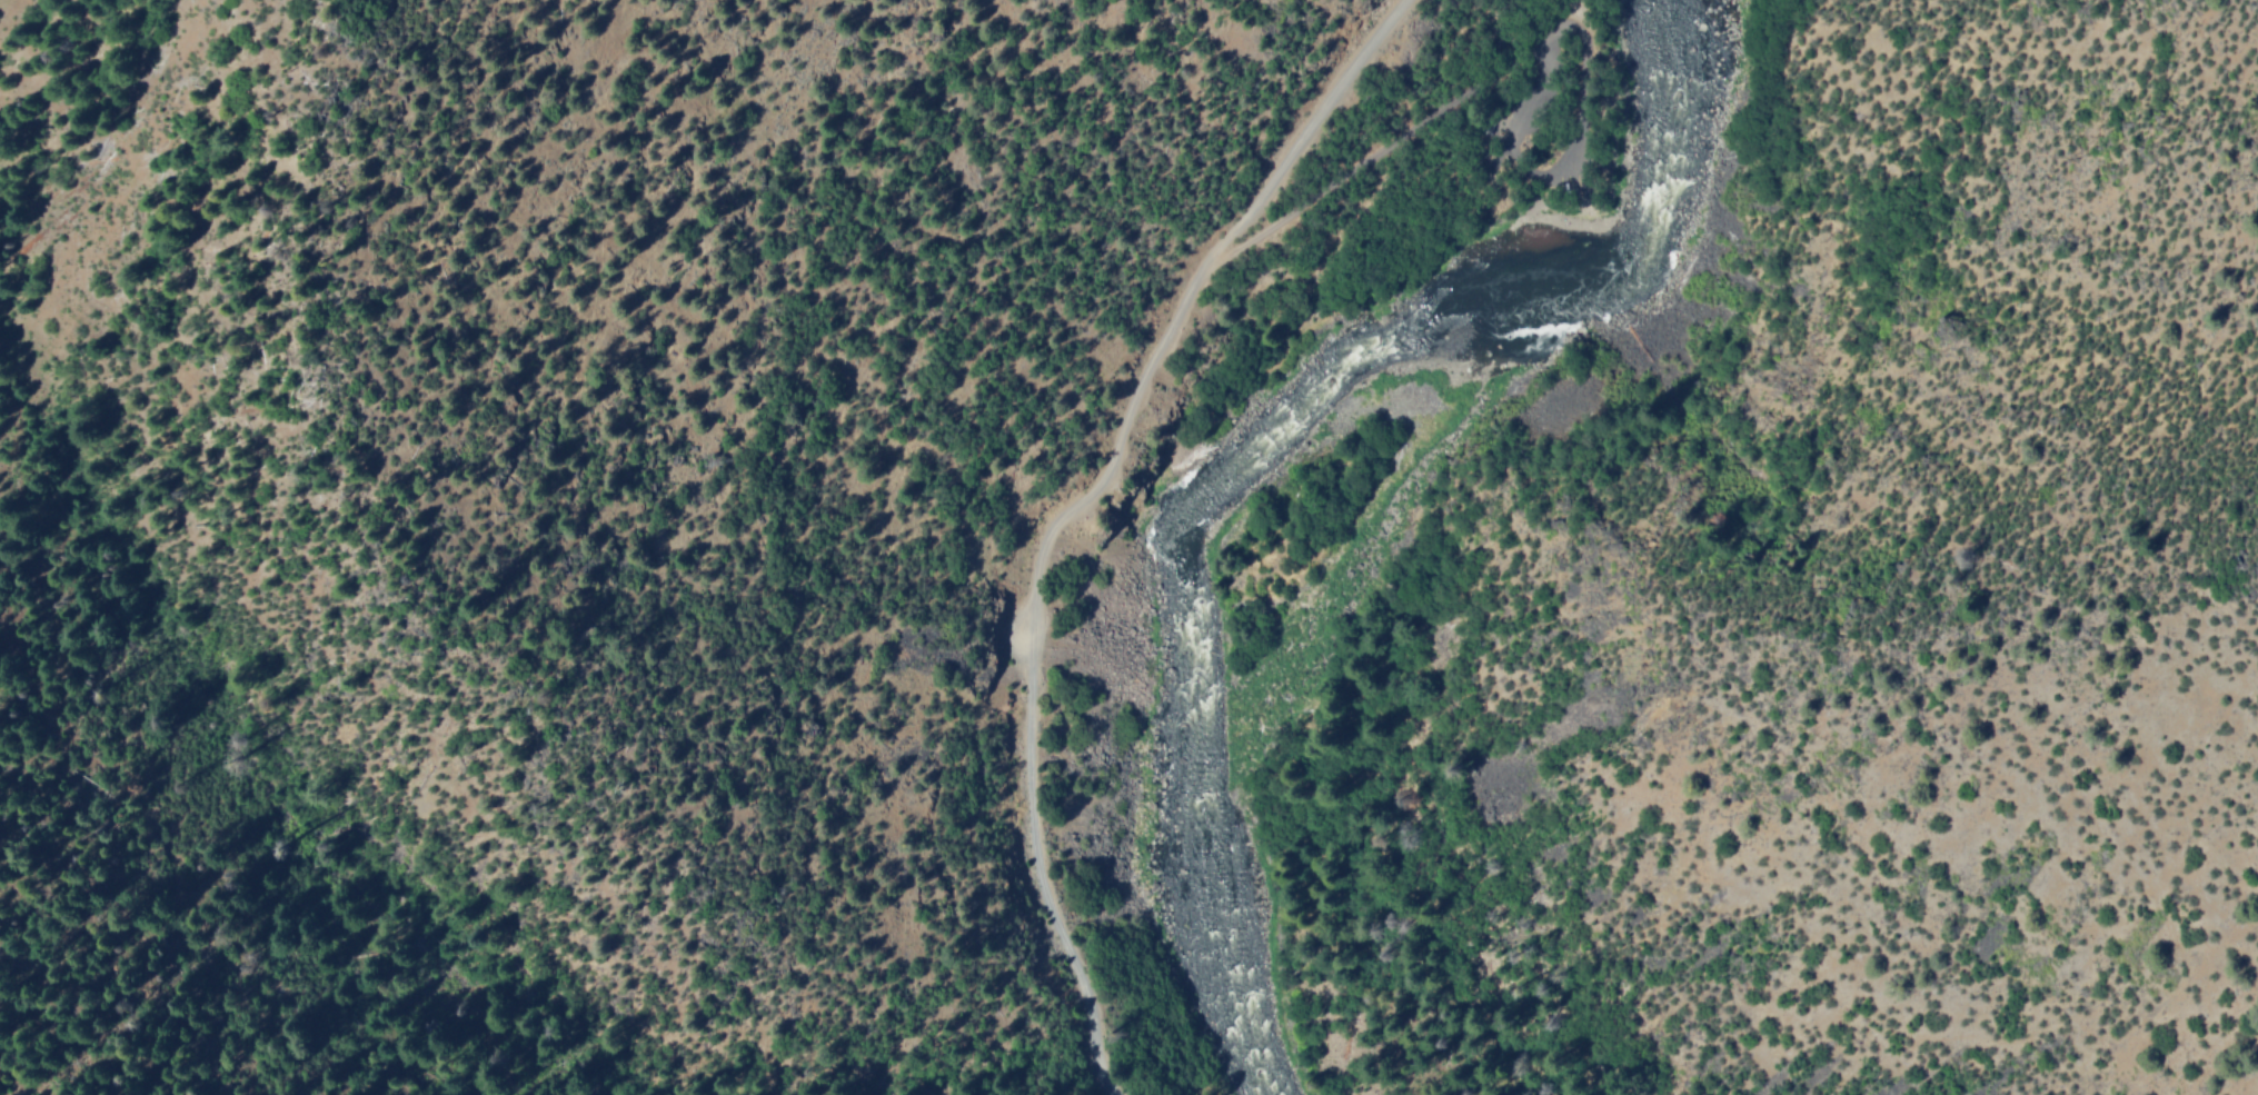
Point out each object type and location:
road: (1533, 49)
river: (1259, 445)
road: (1076, 509)

